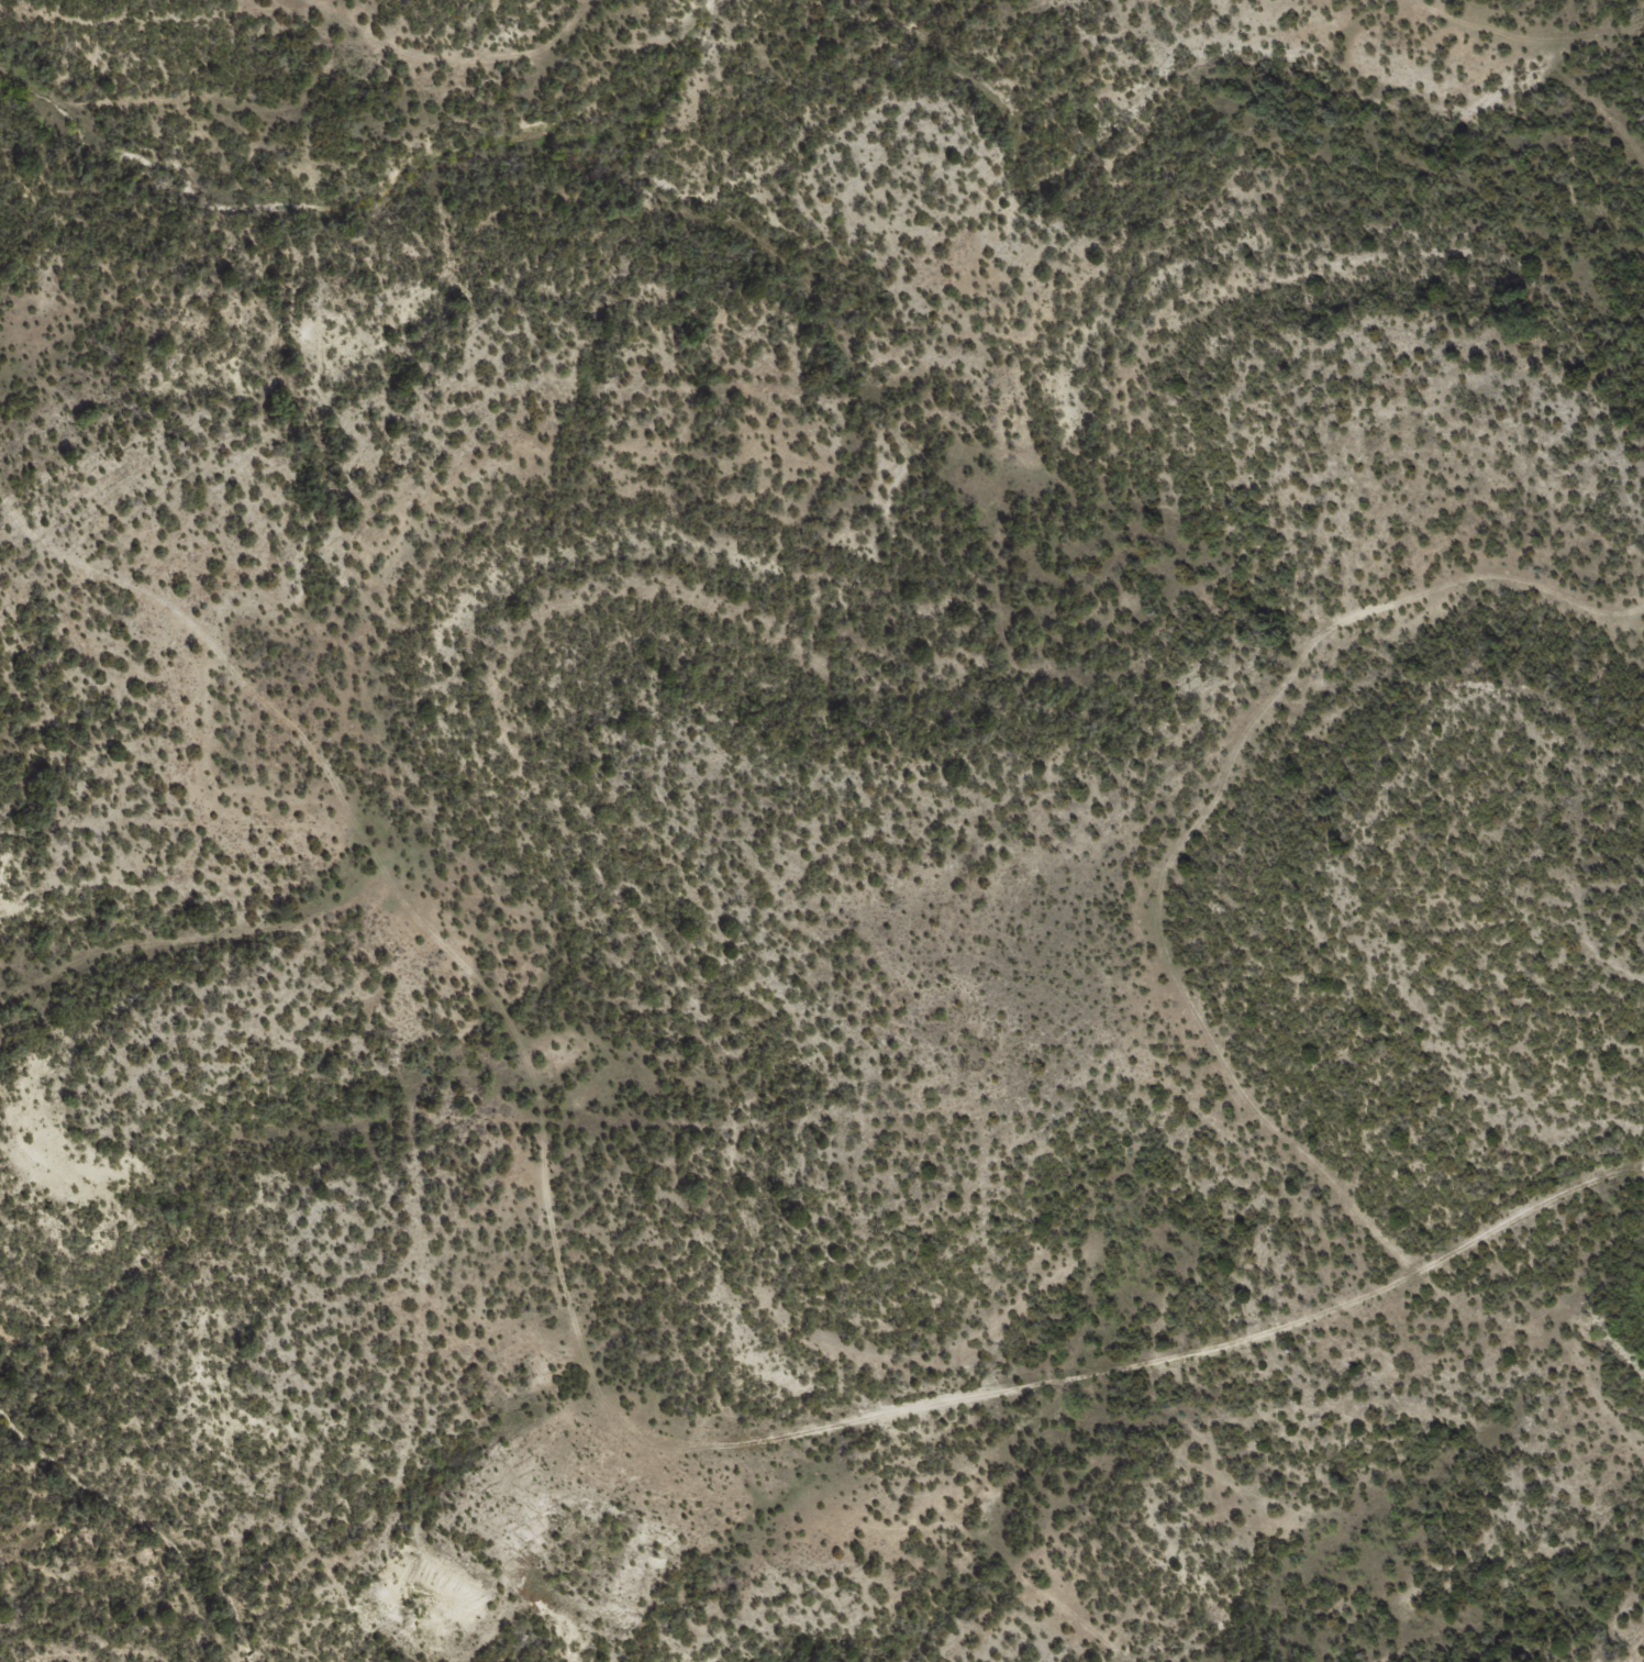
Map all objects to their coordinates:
road: (468, 1002)

